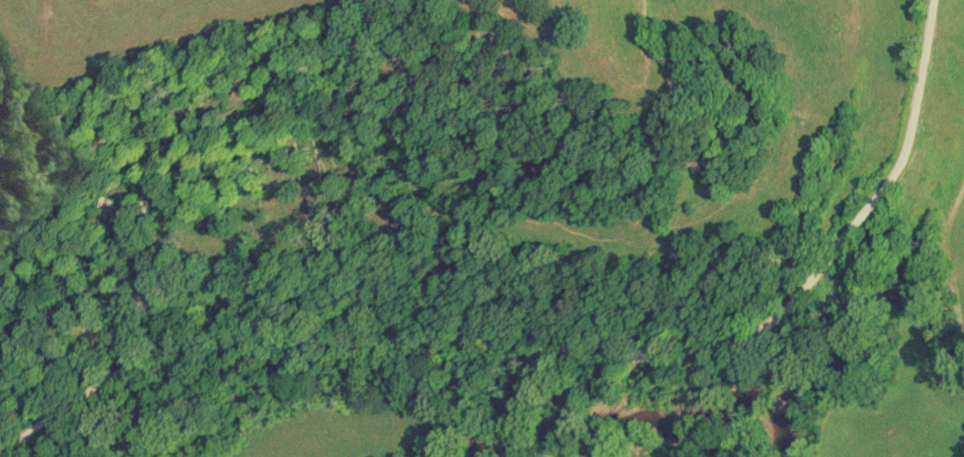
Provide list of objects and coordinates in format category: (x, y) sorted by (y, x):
road: (557, 351)

